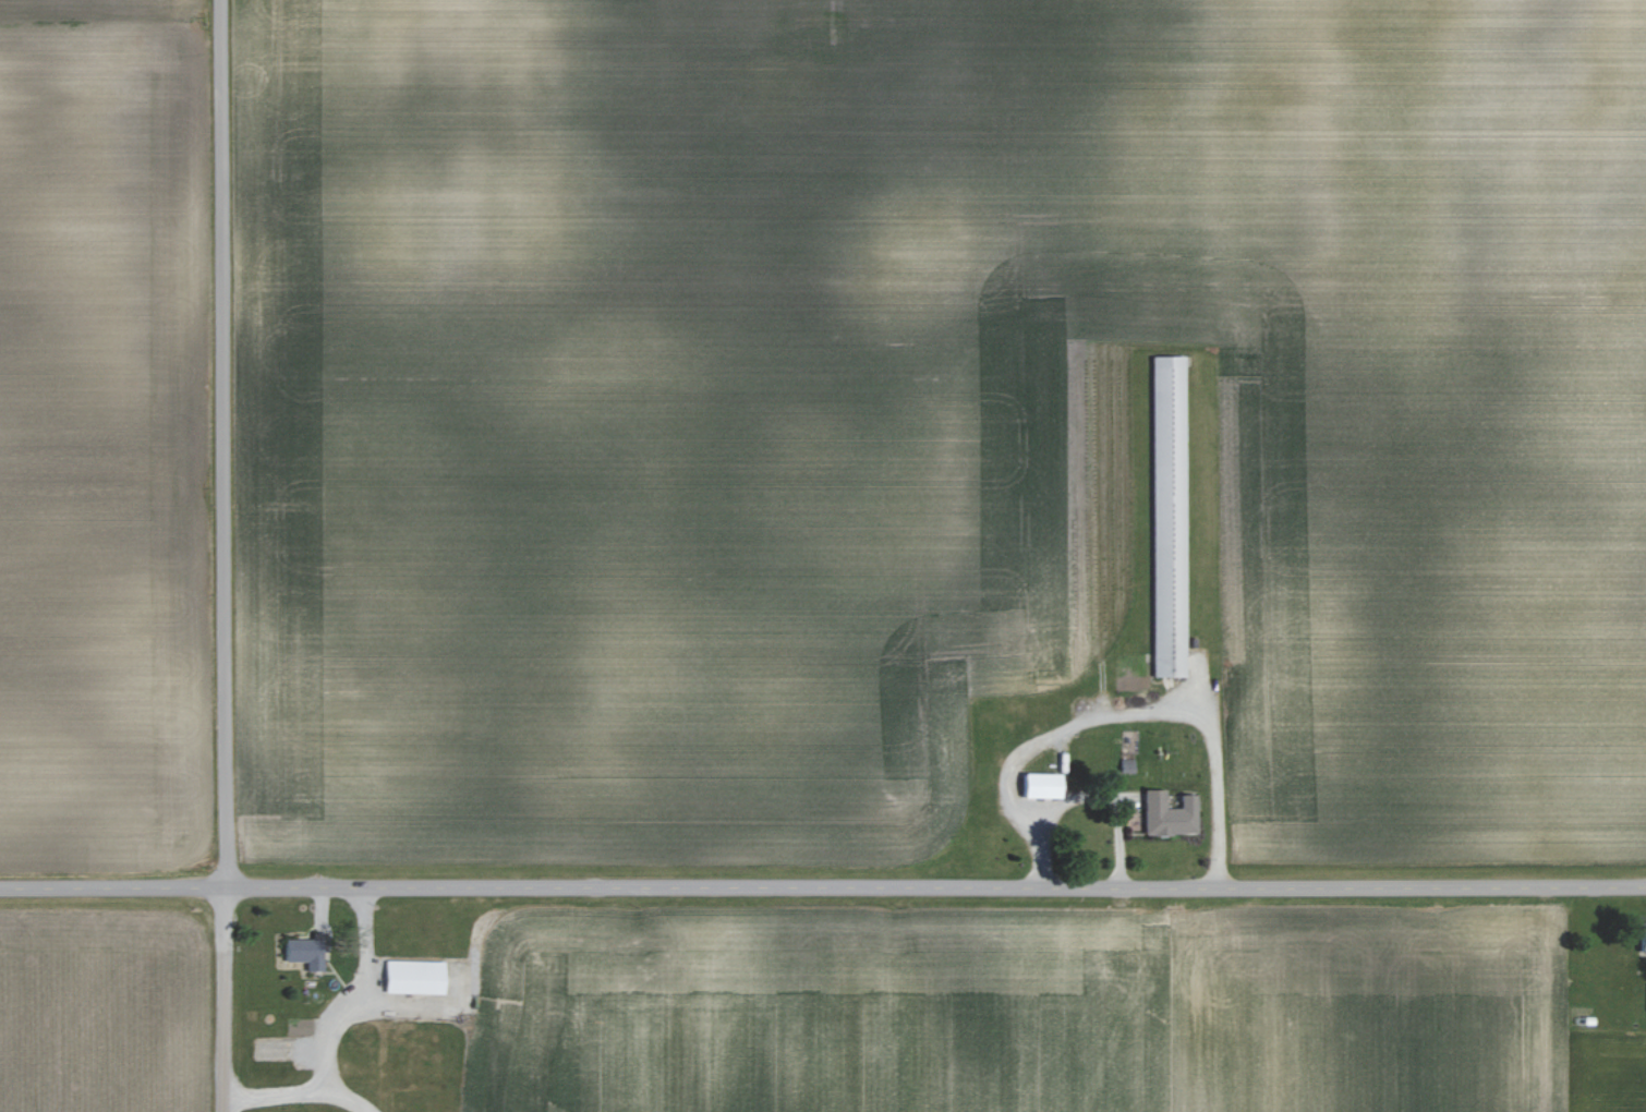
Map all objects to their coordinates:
road: (216, 556)
road: (1119, 714)
building: (1034, 785)
building: (1163, 814)
road: (822, 884)
building: (1639, 936)
building: (306, 953)
road: (352, 993)
building: (1645, 1012)
road: (293, 1092)

